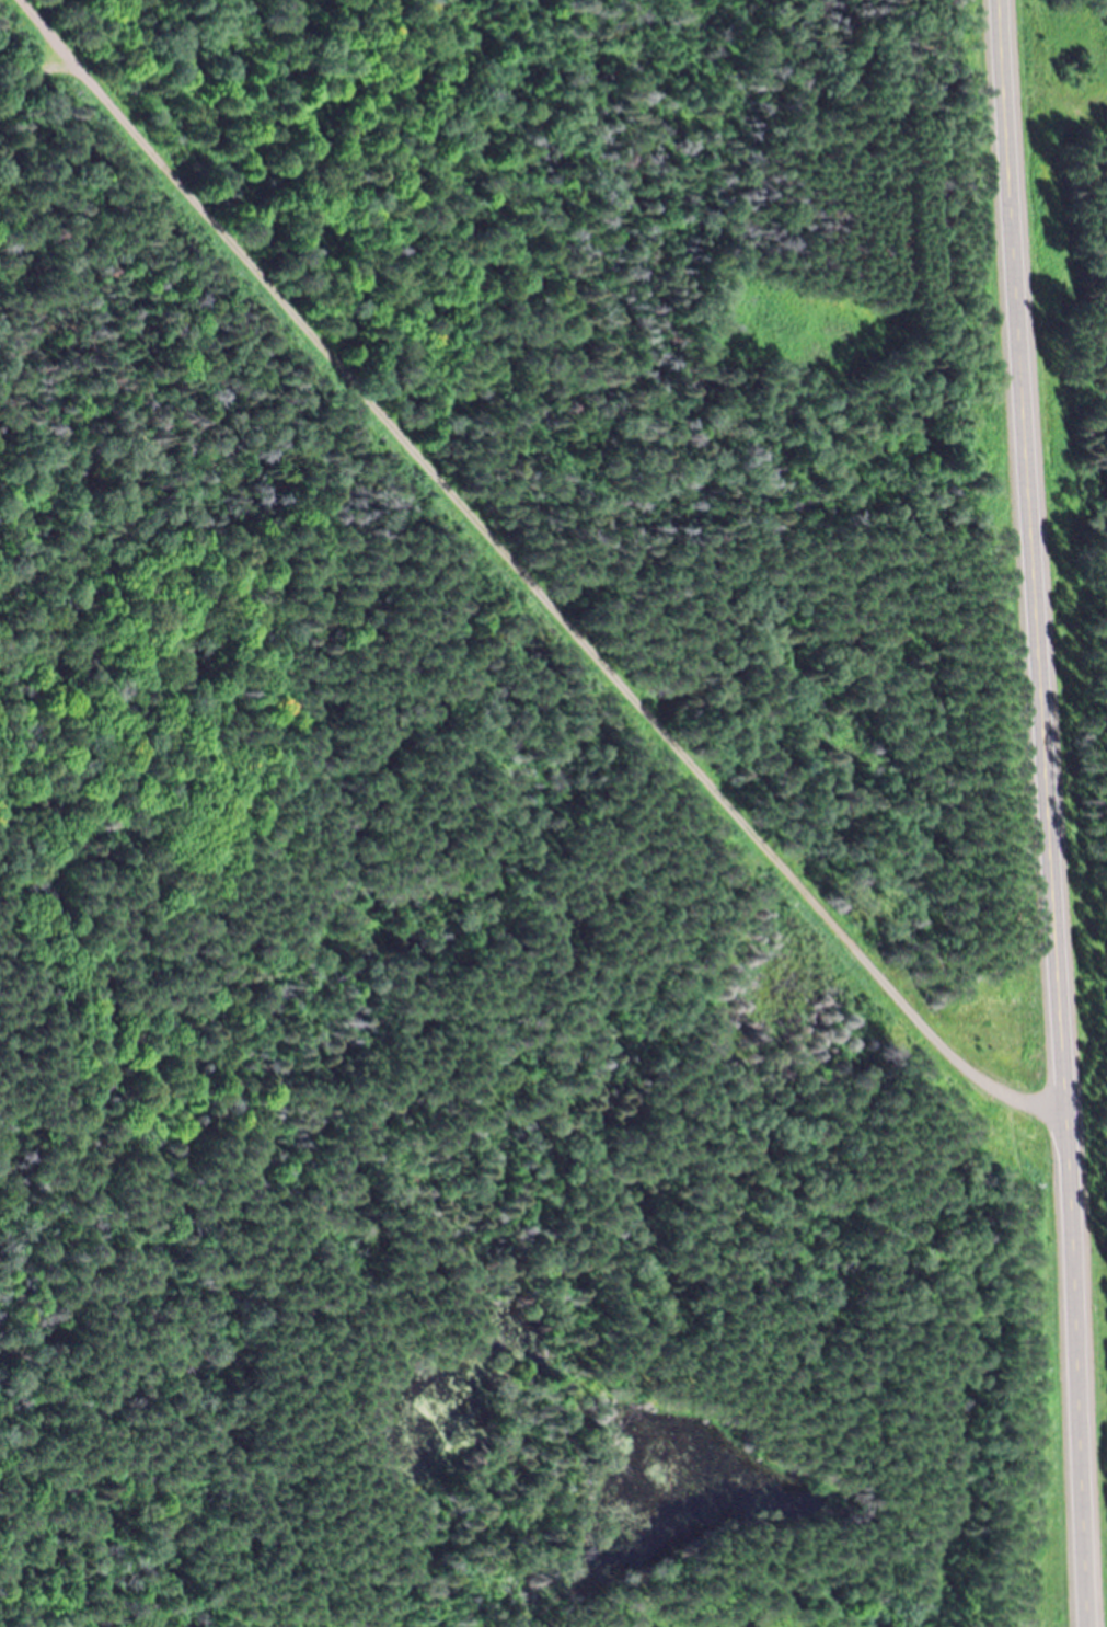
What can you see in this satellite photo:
road: (34, 88)
road: (528, 577)
road: (1048, 813)

